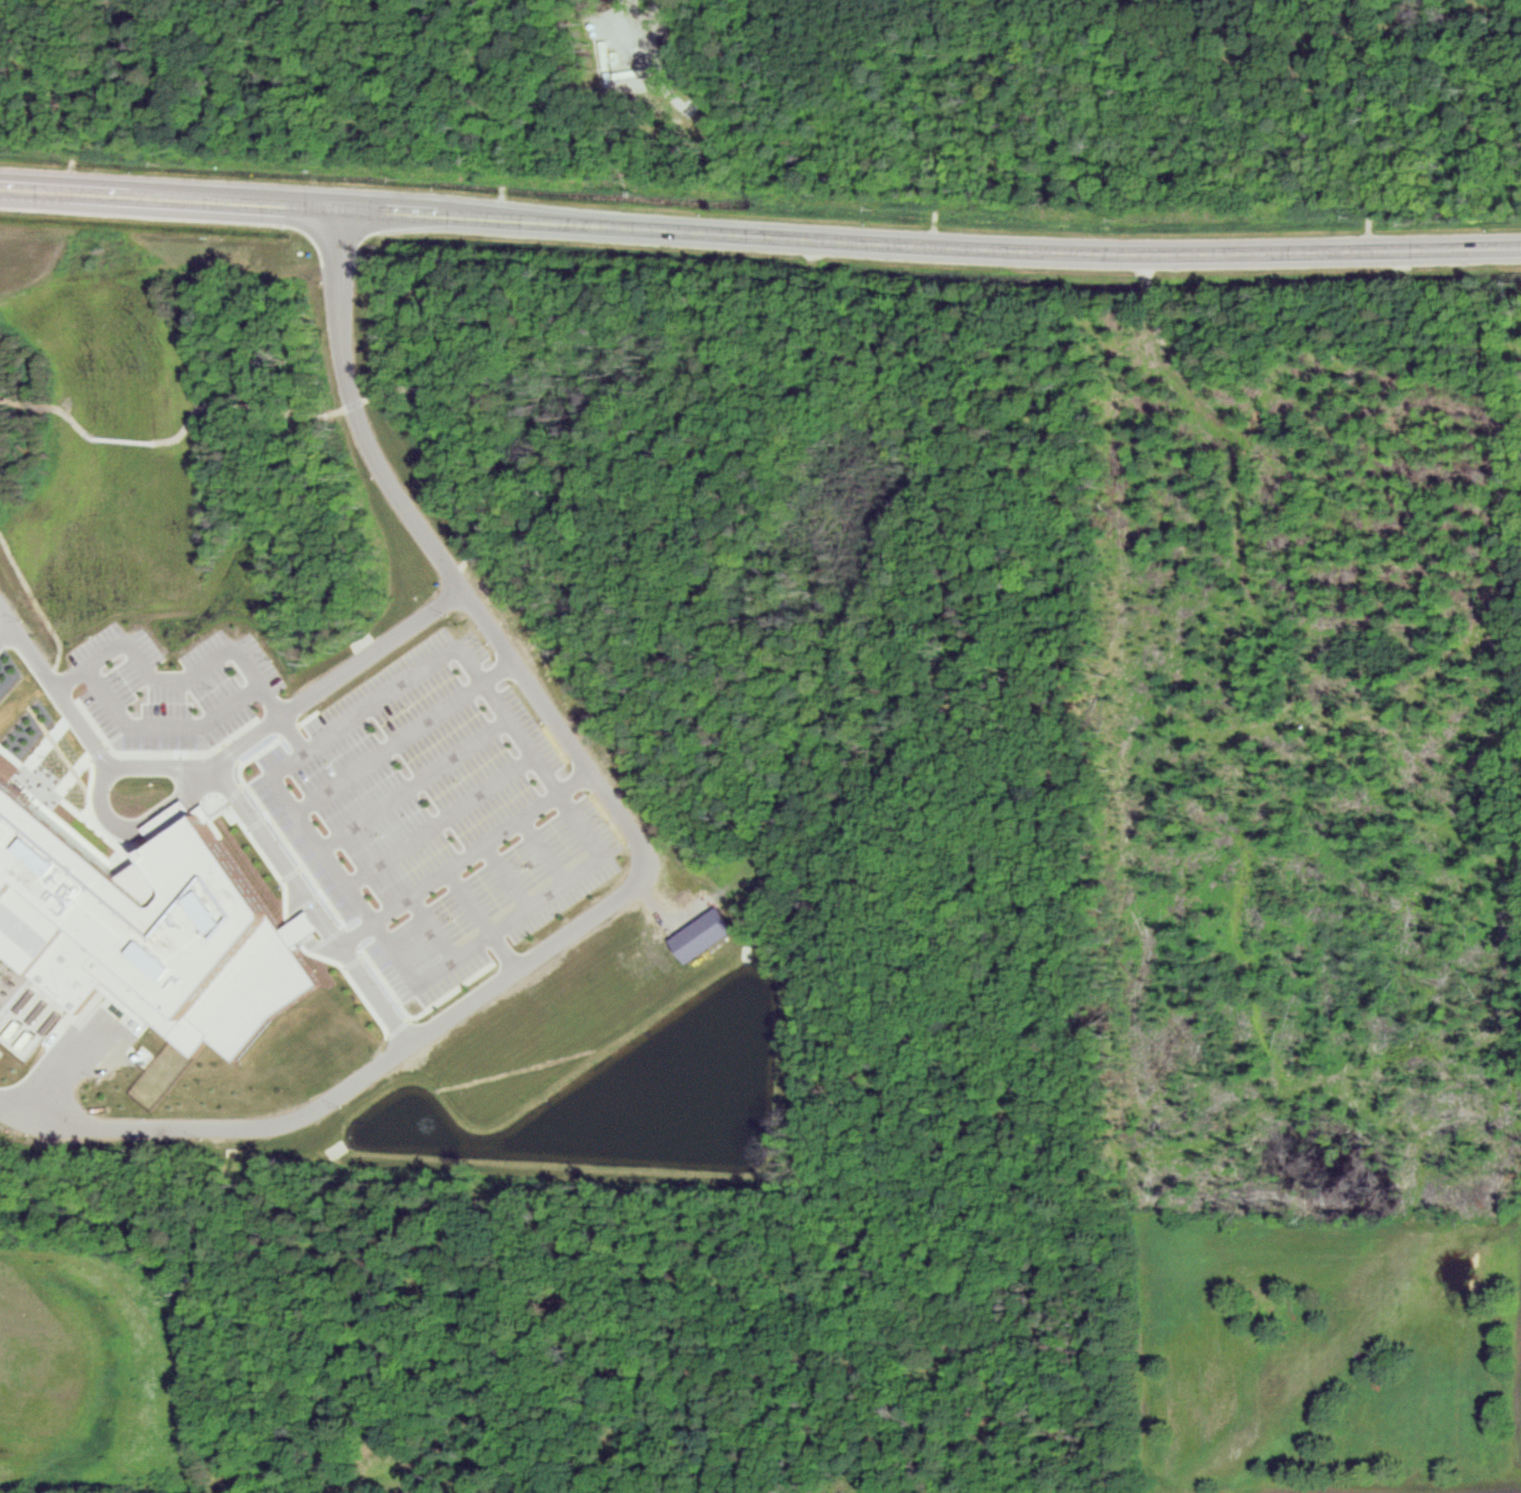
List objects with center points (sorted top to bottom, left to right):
road: (760, 231)
road: (199, 414)
road: (5, 628)
road: (460, 644)
road: (177, 677)
parking lot: (171, 687)
road: (165, 725)
road: (404, 733)
road: (295, 735)
road: (219, 760)
road: (417, 783)
parking lot: (436, 813)
road: (442, 819)
road: (133, 827)
road: (544, 849)
road: (466, 857)
road: (647, 860)
road: (508, 874)
road: (312, 905)
road: (484, 919)
road: (434, 926)
building: (704, 931)
building: (145, 935)
road: (58, 1066)
crop: (1333, 1350)

